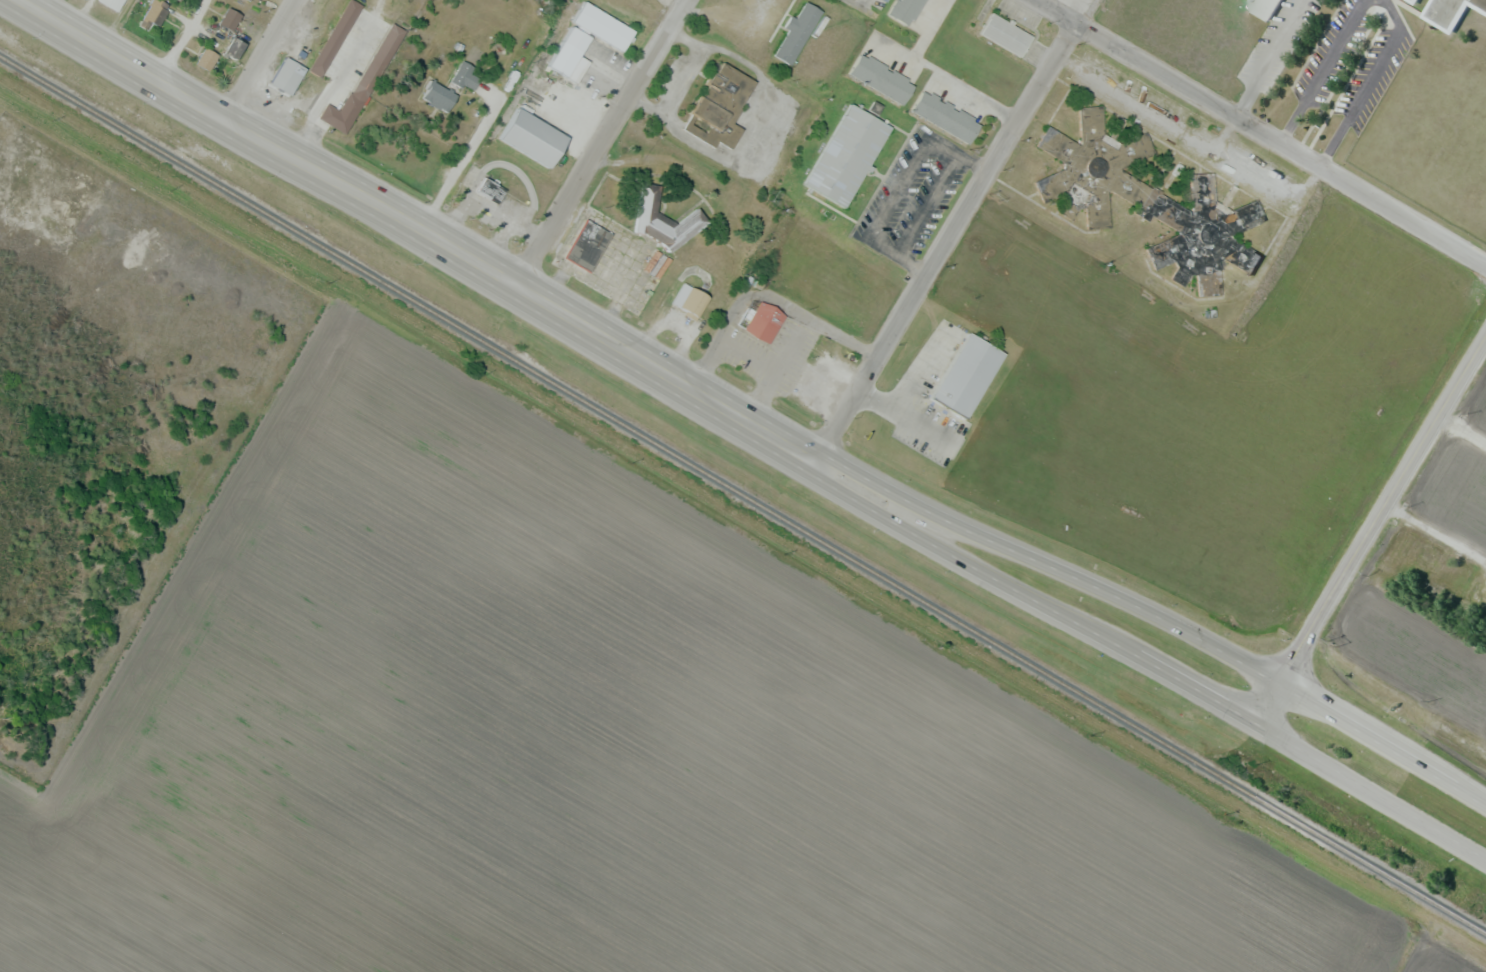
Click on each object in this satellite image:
building: (250, 0)
building: (112, 4)
building: (1261, 8)
building: (1449, 11)
building: (155, 12)
building: (230, 18)
building: (601, 30)
building: (797, 32)
building: (1006, 34)
building: (335, 37)
building: (389, 43)
building: (235, 47)
building: (207, 58)
road: (253, 59)
building: (564, 62)
building: (466, 75)
building: (286, 79)
building: (439, 95)
building: (720, 106)
building: (341, 113)
building: (519, 113)
road: (1264, 132)
building: (531, 140)
road: (605, 144)
building: (845, 159)
building: (1112, 173)
building: (490, 188)
building: (665, 219)
road: (415, 228)
road: (944, 241)
building: (586, 248)
building: (690, 300)
building: (763, 326)
building: (965, 379)
road: (1461, 435)
railway: (743, 493)
road: (1384, 509)
building: (1420, 563)
road: (1046, 565)
road: (1029, 595)
road: (1269, 703)
road: (1384, 740)
road: (1371, 794)

